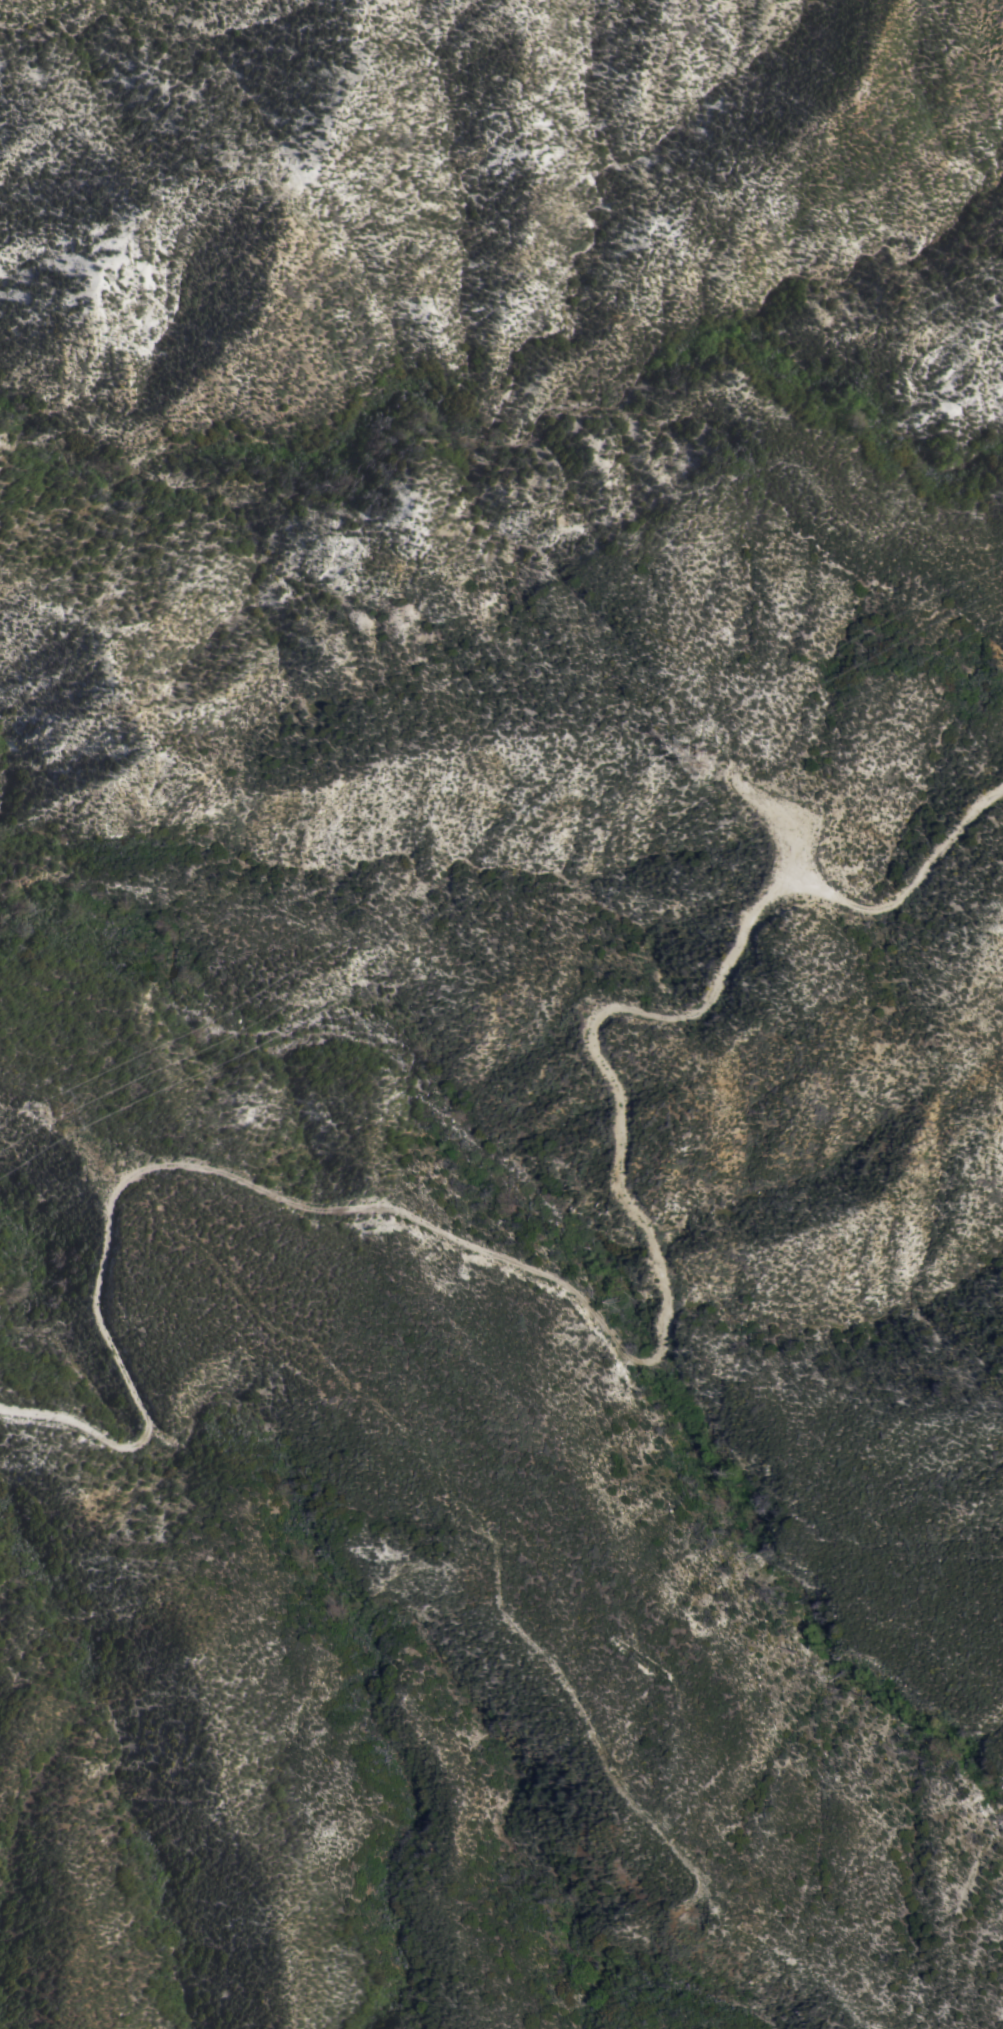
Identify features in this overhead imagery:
power tower: (715, 760)
power tower: (52, 1105)
road: (598, 1322)

